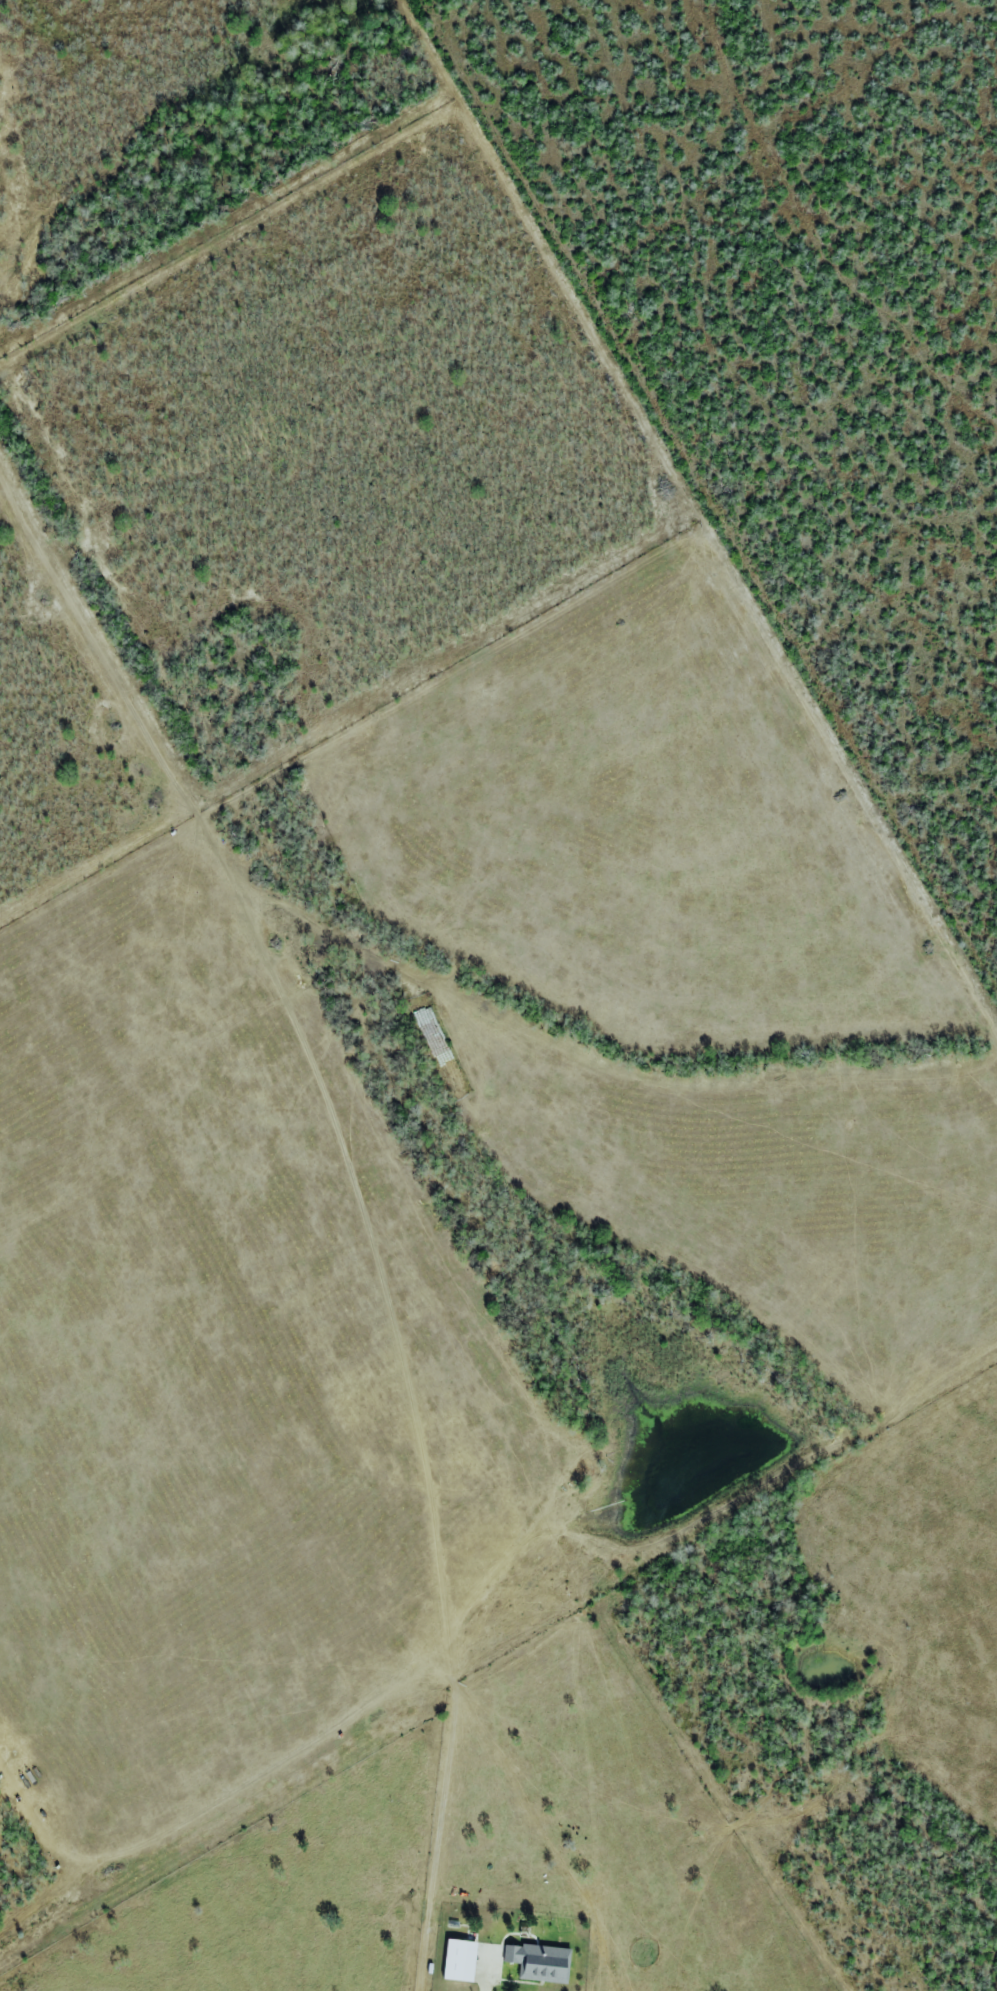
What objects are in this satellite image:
building: (459, 1960)
building: (538, 1962)
road: (488, 1977)

